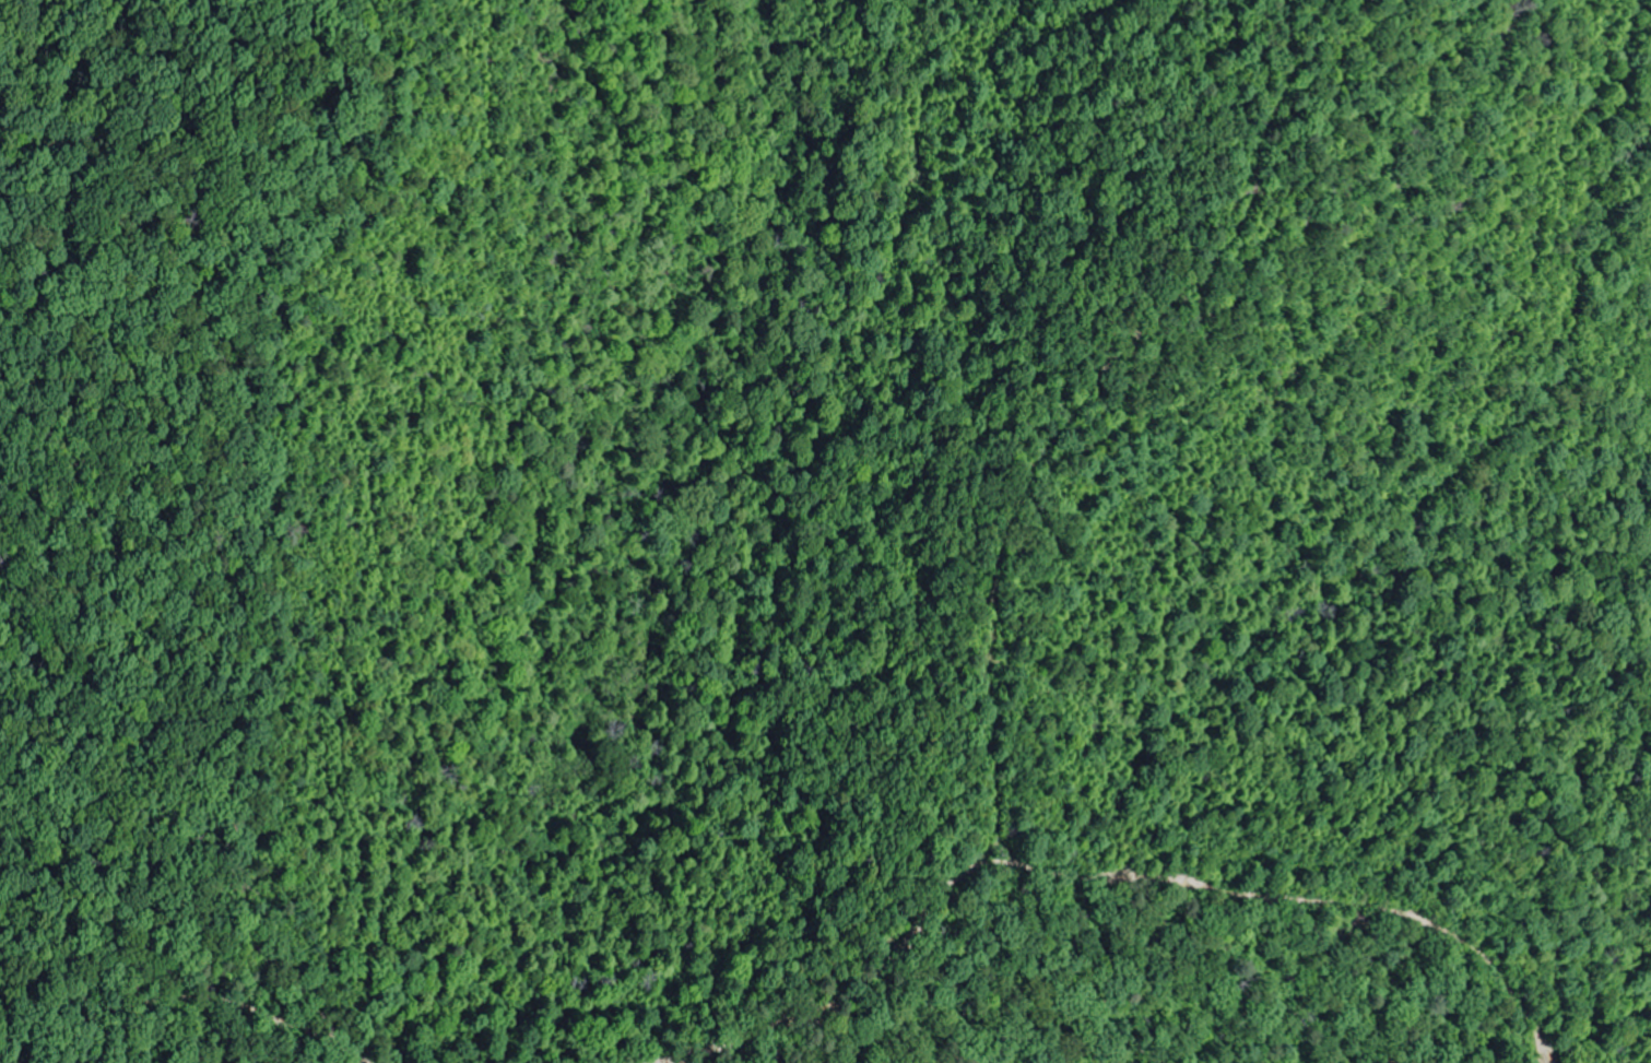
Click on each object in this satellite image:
road: (838, 952)

